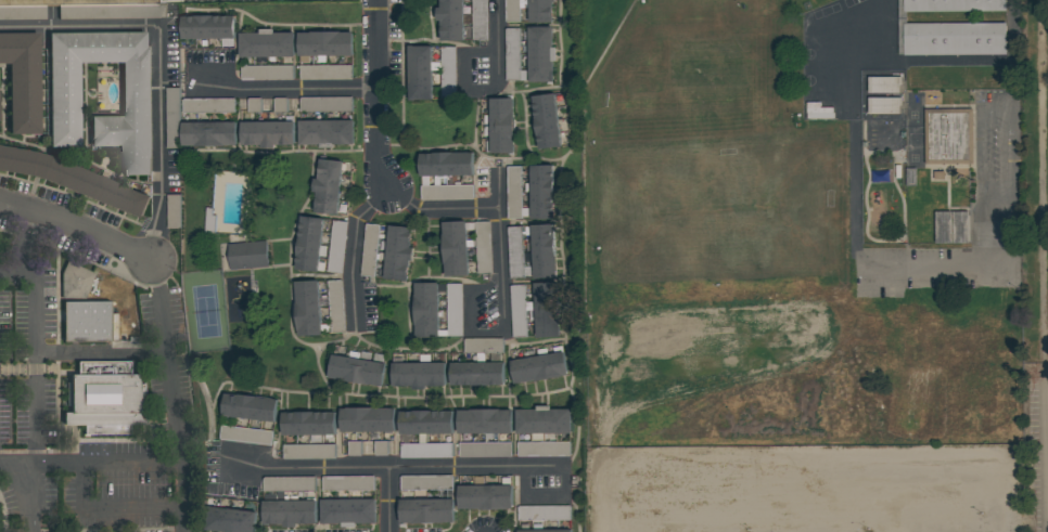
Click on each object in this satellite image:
building: (955, 5)
building: (27, 8)
building: (513, 10)
building: (540, 10)
building: (450, 20)
building: (480, 20)
building: (208, 28)
building: (899, 28)
road: (159, 31)
road: (1011, 33)
building: (955, 41)
building: (266, 44)
building: (323, 44)
road: (496, 46)
building: (540, 54)
building: (513, 56)
building: (448, 72)
building: (267, 73)
building: (325, 73)
building: (420, 73)
road: (462, 73)
building: (23, 79)
building: (884, 87)
building: (64, 89)
road: (287, 90)
building: (325, 104)
building: (208, 105)
building: (884, 106)
building: (172, 118)
building: (546, 120)
building: (500, 124)
building: (325, 132)
building: (208, 133)
building: (267, 133)
building: (882, 133)
building: (948, 138)
road: (1009, 146)
building: (446, 164)
road: (379, 171)
road: (1044, 177)
building: (73, 179)
building: (912, 179)
parking lot: (1034, 179)
building: (328, 185)
building: (446, 192)
building: (514, 192)
building: (541, 192)
building: (174, 211)
road: (444, 211)
road: (155, 228)
road: (76, 229)
building: (951, 229)
building: (308, 243)
building: (336, 246)
building: (455, 248)
building: (369, 249)
road: (502, 249)
building: (542, 250)
building: (515, 251)
building: (397, 252)
building: (247, 255)
road: (10, 273)
building: (76, 281)
building: (335, 306)
building: (307, 308)
building: (425, 309)
building: (546, 309)
building: (517, 310)
park: (204, 311)
building: (88, 322)
building: (483, 346)
road: (104, 353)
road: (1047, 355)
road: (1046, 362)
building: (537, 367)
building: (356, 371)
building: (476, 373)
building: (419, 374)
building: (104, 399)
building: (250, 407)
building: (367, 419)
building: (484, 421)
building: (542, 421)
building: (424, 423)
building: (309, 424)
building: (245, 436)
building: (544, 449)
road: (1046, 449)
building: (485, 450)
building: (426, 451)
building: (308, 452)
road: (809, 458)
road: (80, 464)
road: (13, 466)
road: (388, 470)
building: (484, 480)
building: (425, 482)
building: (289, 483)
building: (347, 483)
parking lot: (829, 484)
road: (26, 490)
road: (919, 494)
road: (960, 494)
road: (710, 495)
road: (752, 495)
road: (796, 495)
road: (836, 495)
road: (877, 495)
road: (666, 496)
building: (485, 497)
road: (392, 502)
road: (137, 507)
building: (426, 510)
building: (348, 511)
building: (290, 512)
building: (544, 512)
street lamp: (982, 514)
road: (186, 519)
building: (228, 519)
street lamp: (869, 529)
street lamp: (746, 530)
building: (544, 531)

